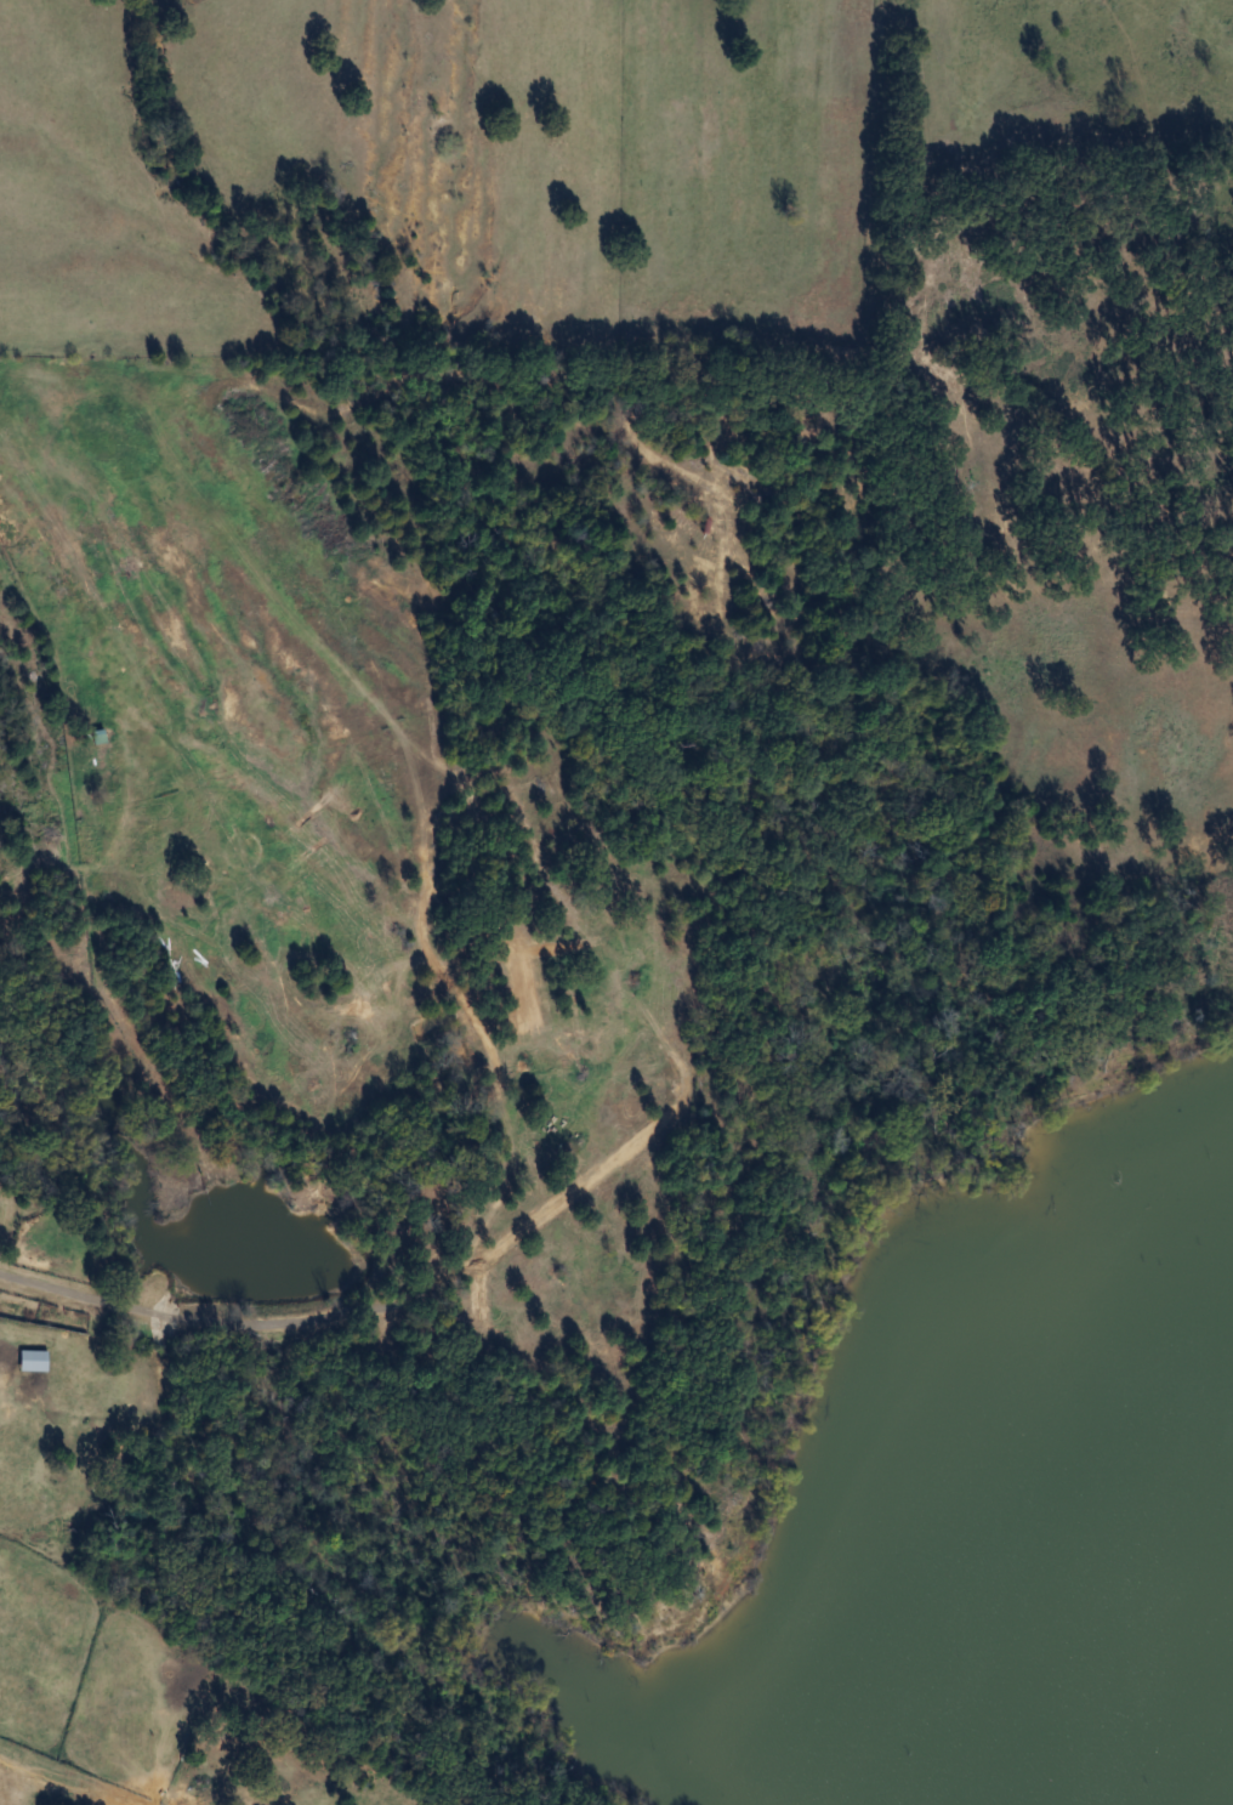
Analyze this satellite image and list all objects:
building: (30, 1361)

